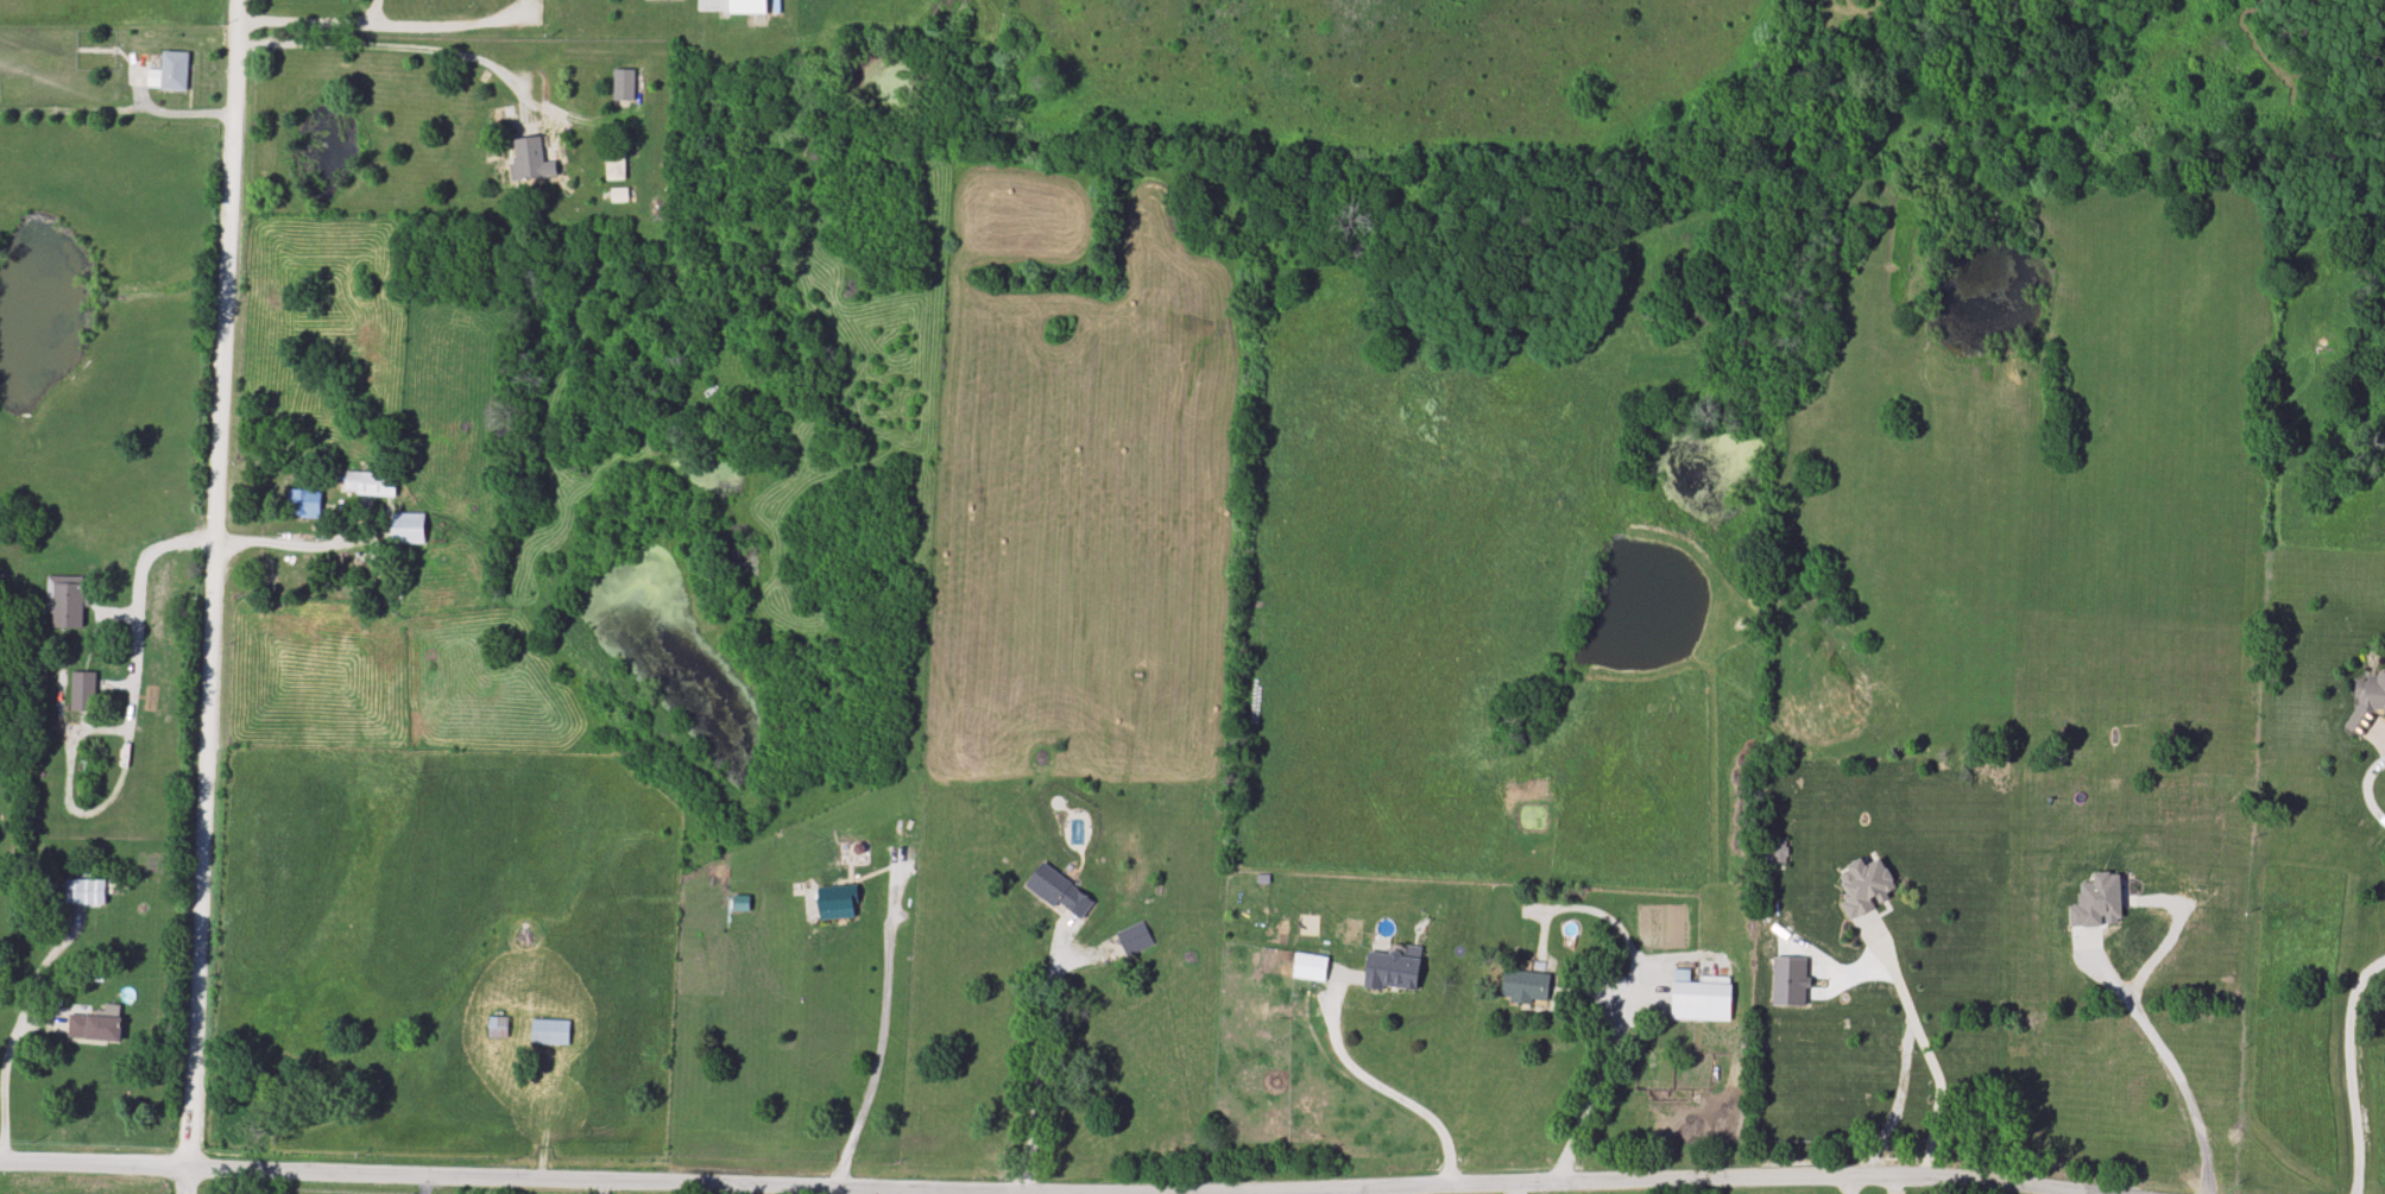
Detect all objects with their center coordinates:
road: (373, 12)
road: (389, 24)
road: (392, 45)
building: (172, 72)
building: (622, 86)
building: (529, 160)
building: (614, 168)
building: (370, 486)
building: (303, 504)
building: (406, 530)
road: (286, 533)
road: (215, 580)
road: (132, 631)
building: (2370, 695)
building: (89, 892)
building: (1059, 895)
building: (833, 904)
building: (1134, 940)
building: (1308, 969)
building: (1390, 974)
building: (1525, 987)
building: (1701, 1003)
building: (100, 1026)
building: (497, 1029)
building: (549, 1034)
road: (7, 1035)
road: (881, 1035)
building: (1861, 1037)
road: (1925, 1051)
road: (2170, 1062)
road: (1036, 1063)
road: (2348, 1072)
road: (1380, 1086)
road: (1591, 1094)
road: (1894, 1101)
road: (416, 1171)
road: (181, 1177)
road: (1703, 1182)
road: (418, 1183)
road: (1849, 1187)
road: (604, 1188)
road: (1508, 1190)

